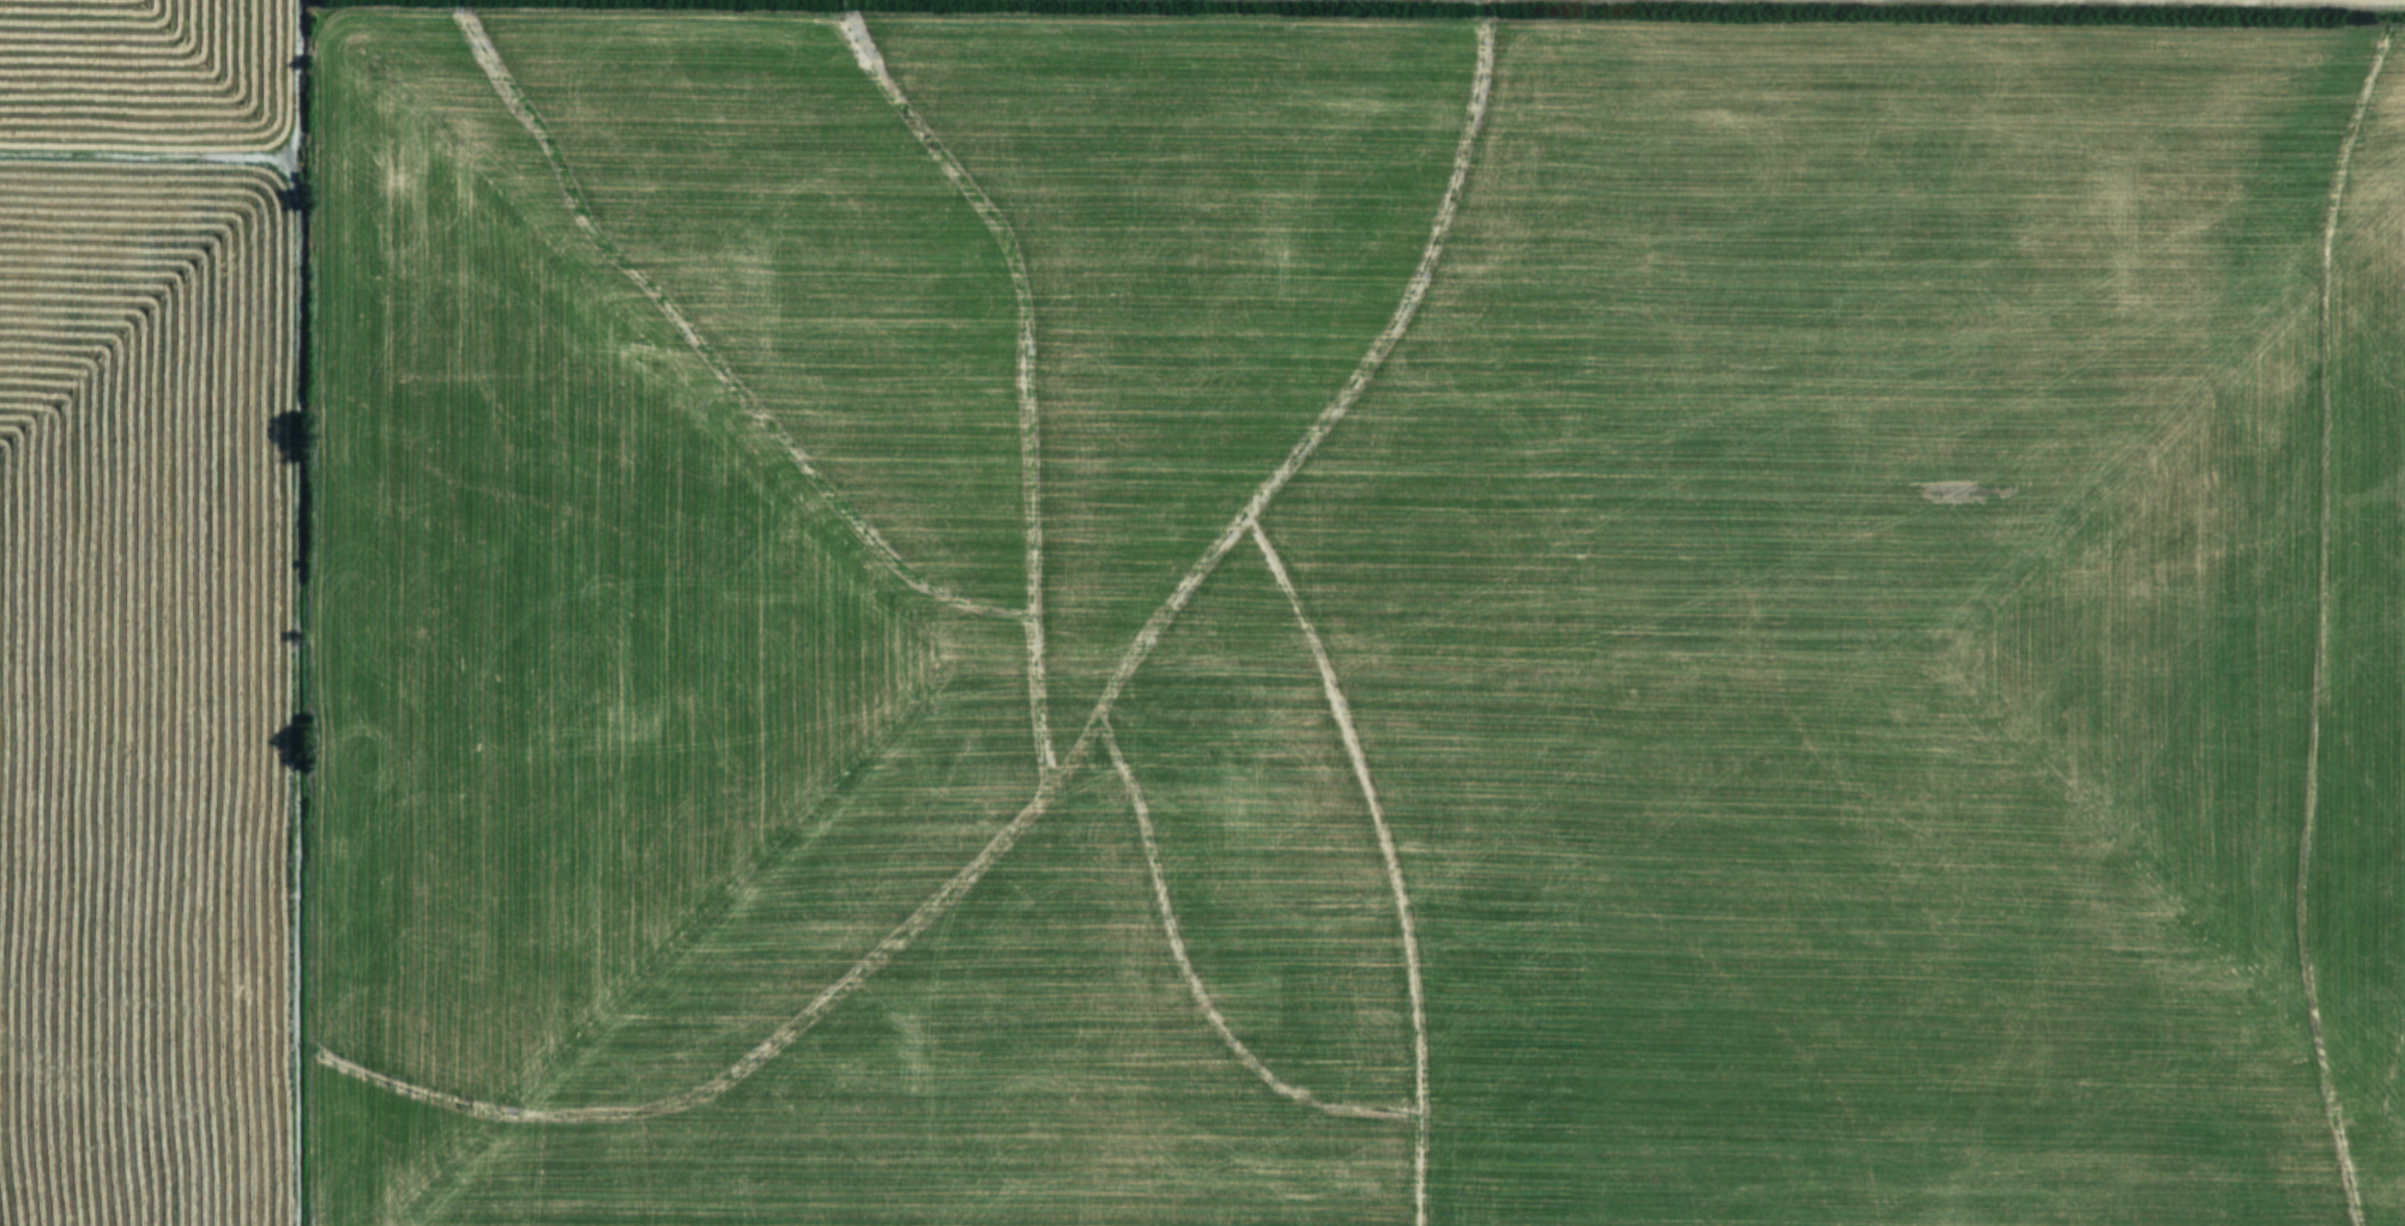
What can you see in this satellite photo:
crop: (1202, 612)

